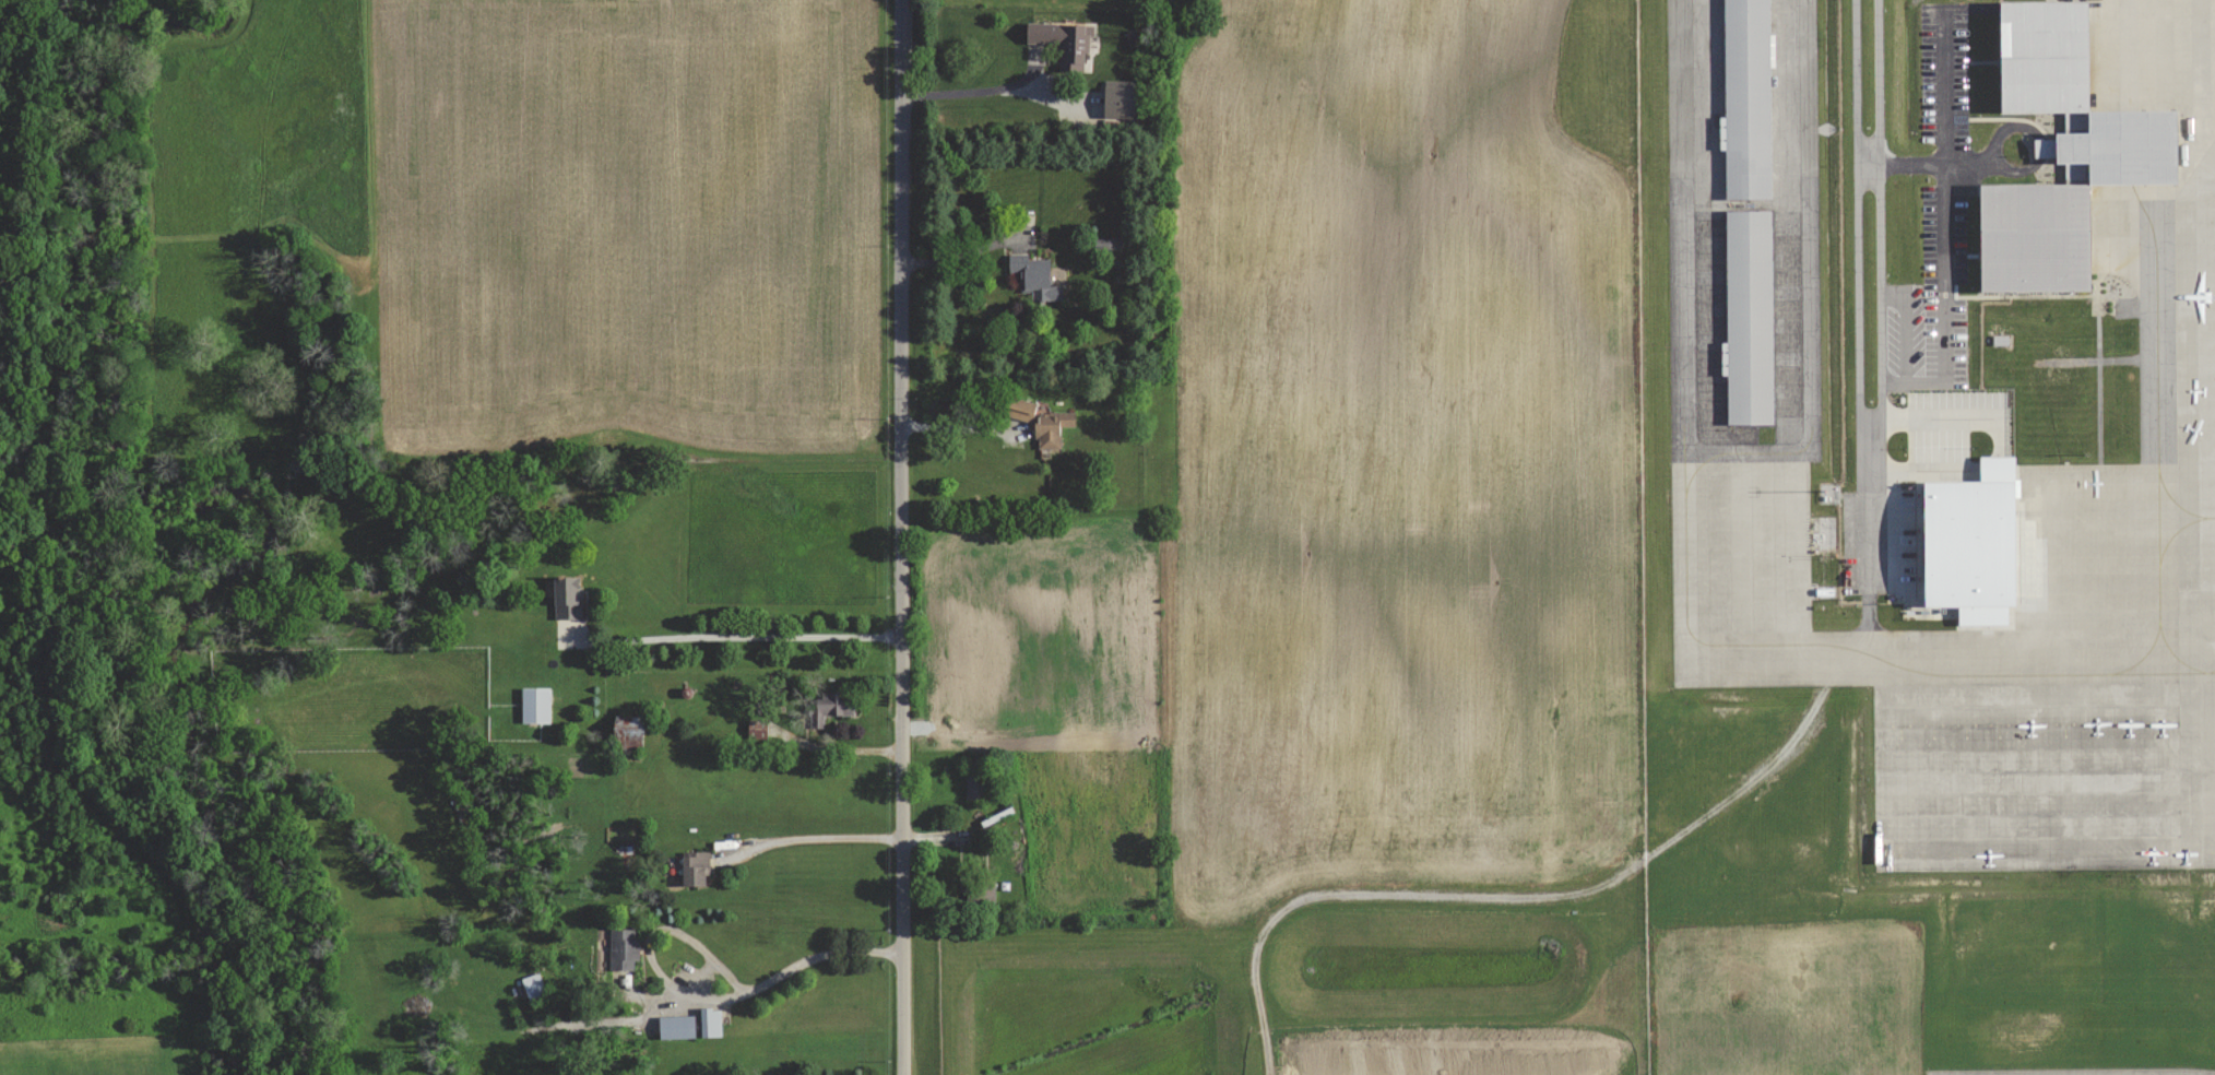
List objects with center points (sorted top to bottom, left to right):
building: (1063, 43)
road: (972, 87)
building: (1118, 99)
building: (1745, 105)
road: (1949, 149)
building: (2061, 154)
road: (1903, 168)
building: (1109, 244)
road: (1880, 245)
road: (1857, 246)
road: (961, 256)
building: (1034, 277)
road: (2098, 300)
building: (1748, 327)
building: (1020, 410)
road: (960, 428)
building: (1052, 428)
airport taxiway: (2187, 519)
airport: (1929, 535)
road: (902, 536)
road: (1872, 543)
building: (1973, 544)
building: (567, 596)
road: (753, 643)
airport taxiway: (2072, 649)
building: (535, 704)
building: (830, 707)
road: (959, 717)
building: (757, 729)
building: (628, 732)
building: (973, 785)
road: (821, 839)
building: (695, 866)
building: (623, 948)
road: (787, 972)
building: (533, 984)
building: (710, 1021)
building: (676, 1027)

